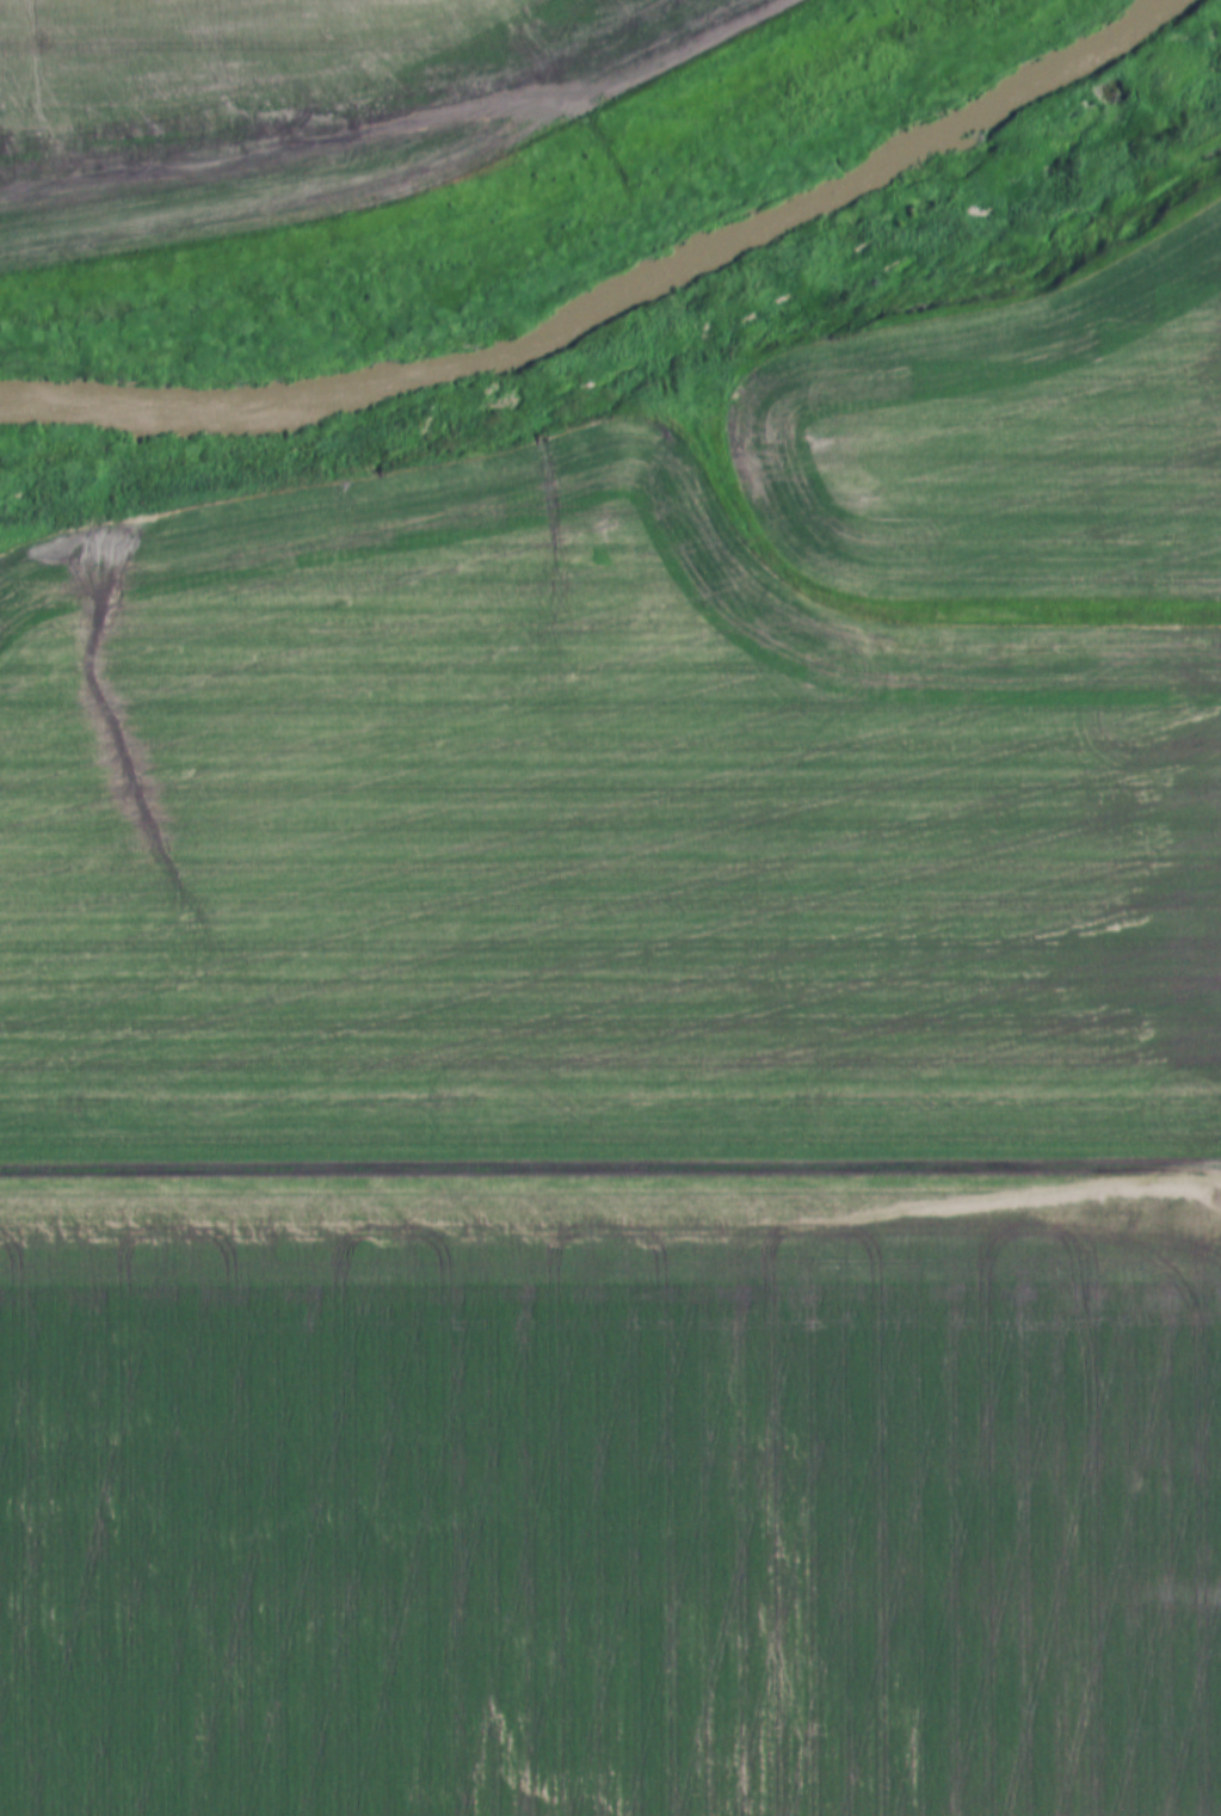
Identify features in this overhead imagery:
river: (627, 295)
road: (610, 1169)
crop: (609, 1502)

